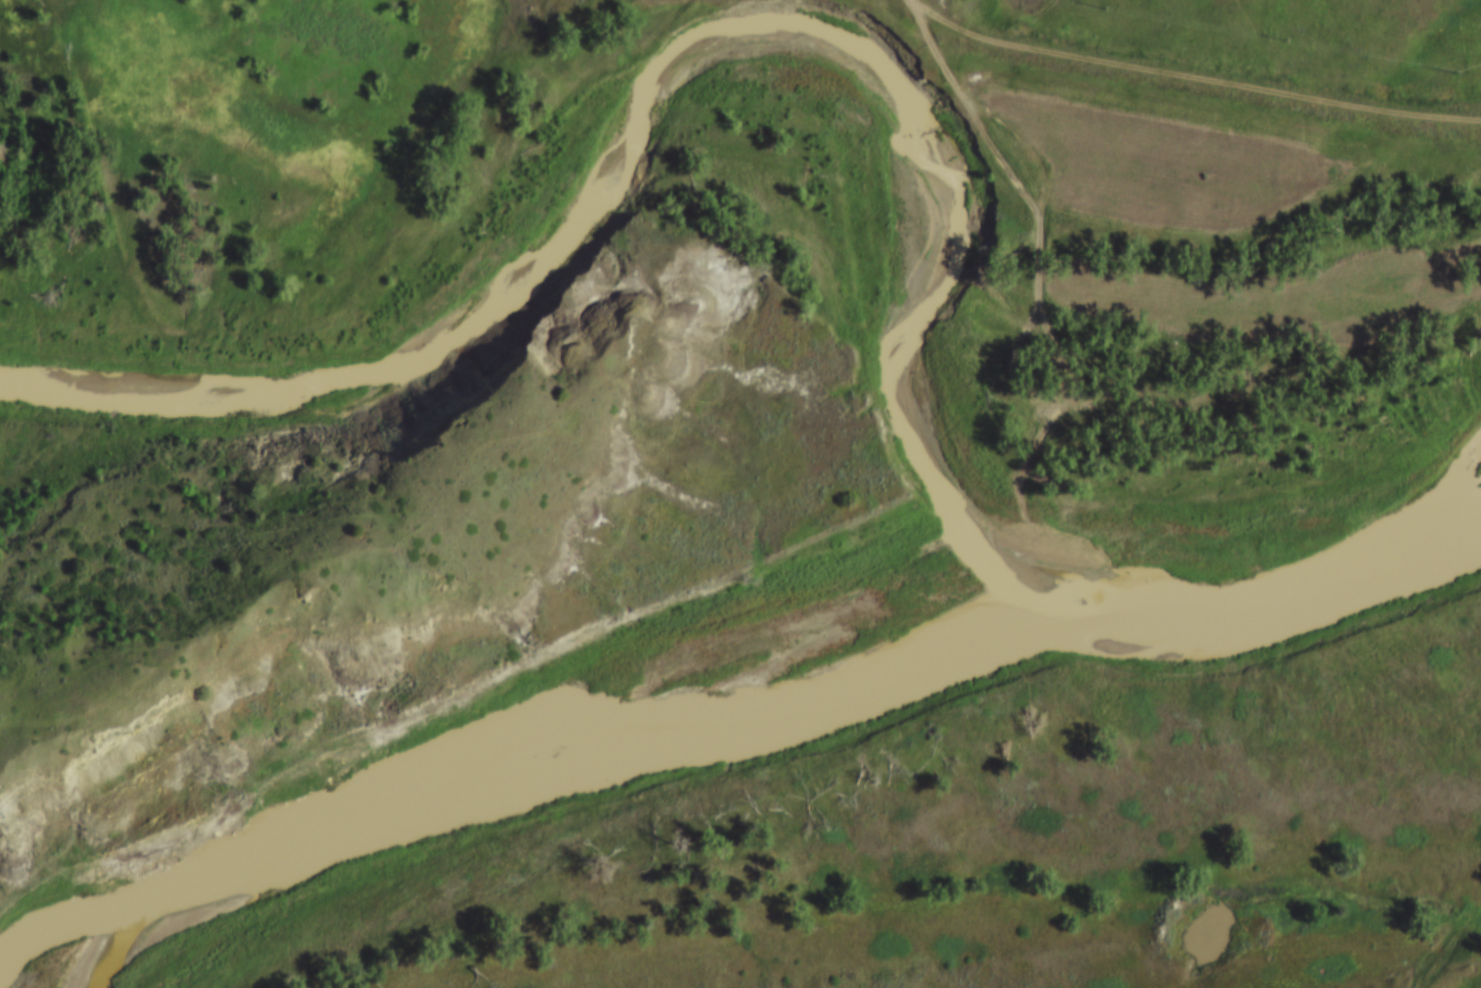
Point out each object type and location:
river: (674, 73)
road: (1194, 74)
road: (1035, 235)
road: (389, 261)
river: (732, 720)

